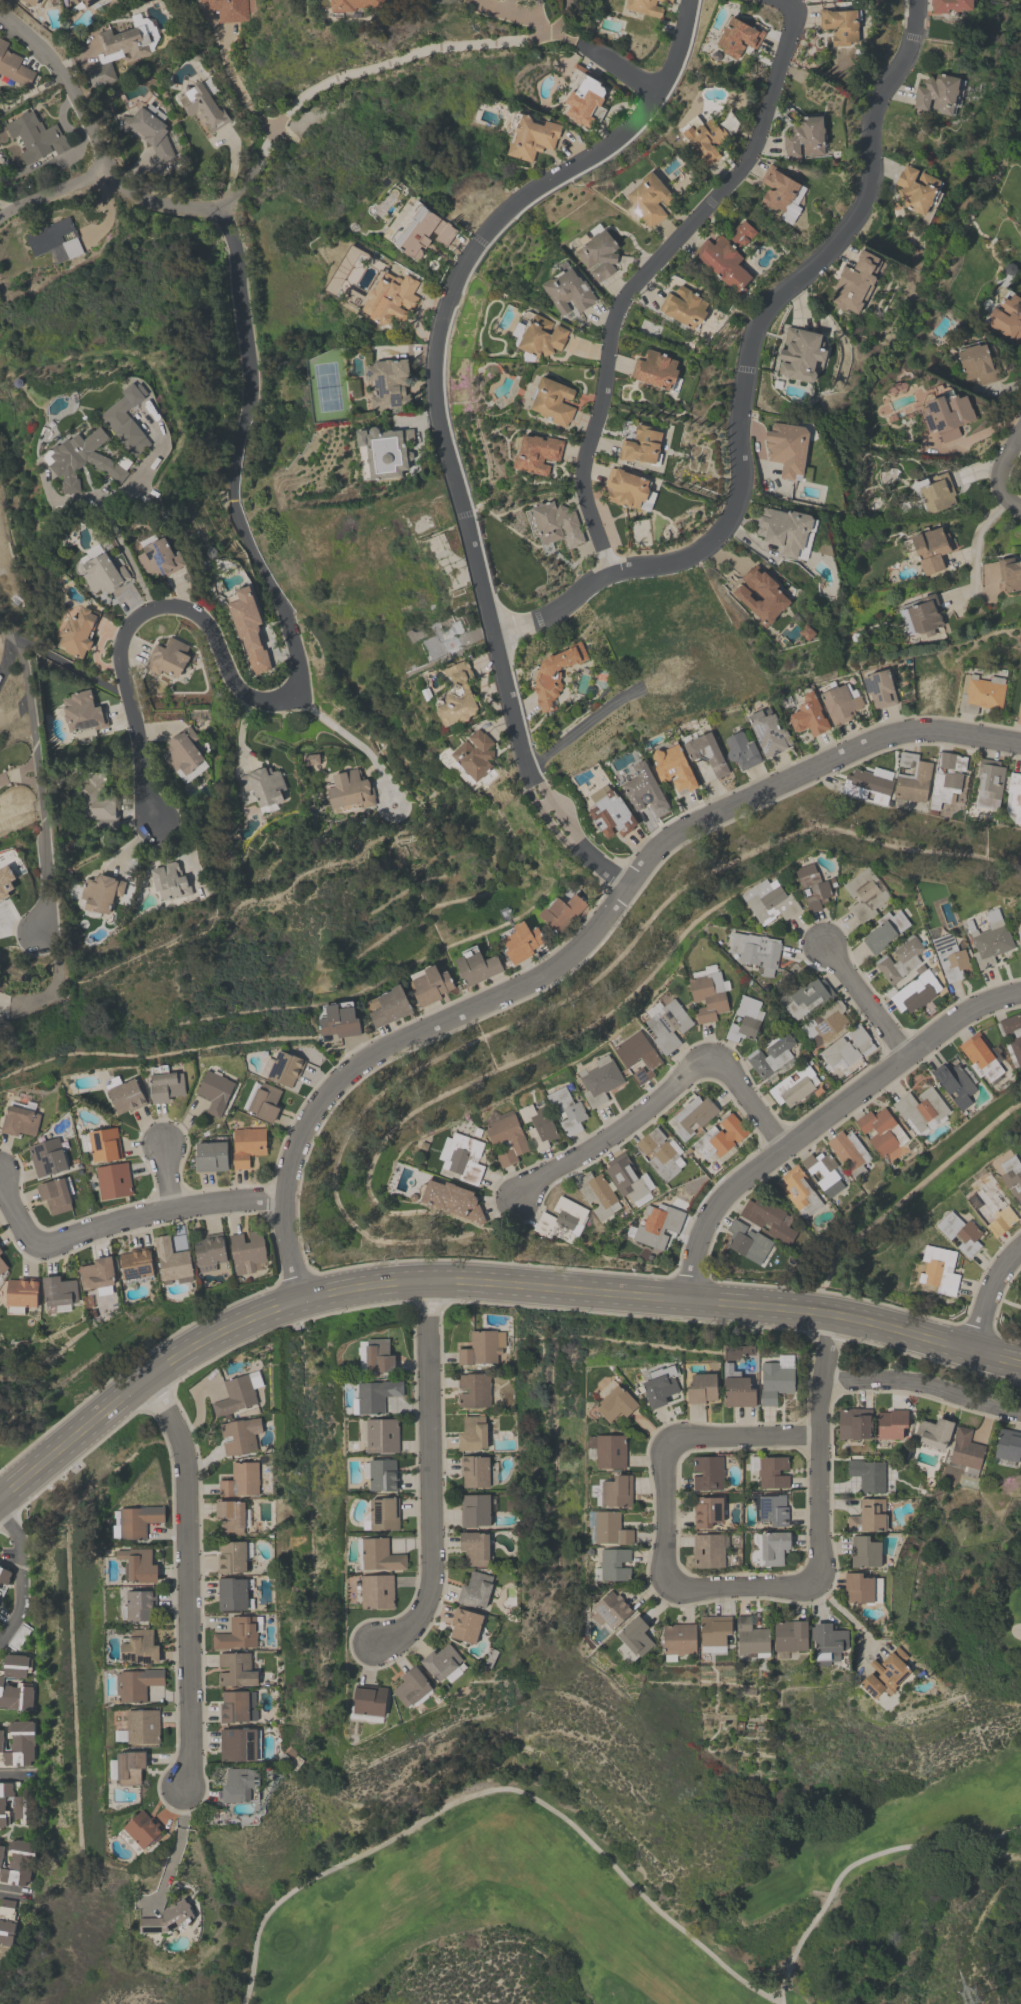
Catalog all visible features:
building: (29, 0)
building: (667, 1)
building: (30, 2)
building: (87, 2)
building: (359, 5)
building: (949, 5)
building: (643, 7)
building: (228, 9)
road: (509, 10)
building: (840, 24)
building: (738, 35)
building: (124, 41)
road: (677, 48)
road: (400, 57)
building: (13, 66)
road: (618, 67)
road: (65, 82)
road: (240, 87)
building: (938, 93)
building: (585, 96)
building: (203, 106)
building: (148, 129)
building: (707, 134)
building: (530, 135)
building: (34, 136)
building: (804, 136)
road: (252, 168)
building: (915, 188)
road: (51, 191)
building: (781, 192)
building: (647, 197)
road: (6, 204)
building: (420, 229)
building: (741, 232)
building: (54, 240)
building: (597, 253)
building: (723, 262)
road: (645, 270)
building: (855, 281)
building: (567, 291)
building: (390, 298)
building: (683, 306)
building: (1007, 317)
building: (540, 335)
building: (800, 353)
building: (977, 363)
building: (655, 370)
road: (746, 370)
building: (388, 383)
road: (1012, 383)
road: (248, 393)
building: (552, 400)
building: (947, 415)
building: (126, 418)
road: (980, 433)
building: (641, 446)
building: (786, 447)
building: (382, 452)
building: (536, 453)
building: (82, 459)
road: (450, 465)
road: (997, 467)
road: (135, 476)
building: (628, 489)
building: (936, 492)
building: (556, 523)
building: (786, 530)
building: (930, 548)
road: (975, 554)
building: (159, 558)
road: (130, 560)
building: (103, 573)
building: (1009, 573)
building: (760, 594)
road: (138, 612)
building: (921, 615)
building: (247, 627)
building: (77, 631)
building: (440, 639)
road: (5, 654)
building: (167, 657)
building: (554, 674)
building: (878, 688)
building: (982, 693)
building: (457, 695)
building: (838, 702)
building: (82, 711)
building: (808, 715)
road: (580, 727)
building: (768, 732)
road: (354, 746)
building: (741, 750)
building: (706, 752)
building: (183, 754)
building: (470, 759)
building: (673, 767)
road: (809, 769)
road: (18, 775)
building: (946, 777)
road: (38, 778)
building: (988, 783)
building: (866, 785)
building: (264, 786)
building: (644, 789)
building: (349, 791)
building: (1014, 795)
building: (98, 801)
building: (611, 814)
building: (169, 880)
building: (5, 881)
building: (812, 887)
building: (864, 893)
building: (98, 894)
building: (769, 901)
building: (561, 910)
building: (1020, 925)
building: (884, 930)
road: (18, 931)
building: (1018, 938)
building: (520, 940)
building: (988, 940)
building: (755, 950)
building: (1020, 955)
building: (950, 958)
building: (899, 959)
building: (475, 965)
road: (56, 975)
building: (429, 984)
building: (914, 993)
building: (707, 995)
building: (807, 996)
road: (868, 1002)
building: (388, 1006)
building: (337, 1019)
building: (744, 1020)
road: (962, 1020)
building: (825, 1022)
building: (667, 1025)
building: (1011, 1036)
road: (386, 1045)
building: (847, 1047)
building: (770, 1054)
building: (637, 1055)
building: (979, 1056)
building: (281, 1067)
building: (599, 1080)
building: (954, 1083)
building: (164, 1084)
building: (793, 1085)
building: (214, 1091)
building: (124, 1093)
road: (668, 1096)
building: (264, 1101)
building: (920, 1107)
building: (567, 1110)
building: (692, 1115)
building: (19, 1120)
building: (538, 1126)
building: (881, 1131)
building: (505, 1136)
building: (719, 1136)
building: (101, 1143)
building: (247, 1144)
building: (850, 1152)
building: (657, 1153)
building: (210, 1156)
building: (47, 1157)
building: (462, 1157)
road: (773, 1160)
building: (823, 1172)
road: (165, 1177)
building: (1011, 1177)
building: (625, 1178)
building: (112, 1180)
building: (798, 1190)
building: (597, 1194)
building: (54, 1195)
building: (451, 1200)
building: (989, 1208)
building: (767, 1219)
building: (561, 1220)
road: (121, 1221)
building: (656, 1224)
building: (959, 1232)
building: (748, 1242)
building: (0, 1250)
building: (208, 1251)
building: (246, 1251)
building: (171, 1261)
building: (136, 1264)
building: (2, 1266)
building: (938, 1269)
building: (97, 1275)
road: (480, 1282)
building: (57, 1291)
building: (20, 1293)
road: (989, 1297)
building: (481, 1347)
building: (378, 1355)
road: (821, 1374)
building: (774, 1381)
building: (660, 1384)
road: (922, 1387)
building: (701, 1388)
building: (473, 1390)
building: (738, 1391)
building: (375, 1394)
building: (234, 1395)
building: (614, 1401)
building: (854, 1422)
building: (890, 1423)
building: (933, 1432)
building: (472, 1433)
building: (240, 1434)
building: (381, 1435)
road: (667, 1437)
building: (1007, 1445)
building: (608, 1450)
building: (965, 1452)
building: (474, 1470)
building: (771, 1471)
building: (706, 1472)
road: (428, 1473)
building: (382, 1474)
building: (866, 1474)
building: (240, 1479)
building: (615, 1491)
building: (769, 1508)
building: (474, 1510)
building: (707, 1512)
building: (383, 1513)
building: (230, 1516)
building: (868, 1516)
building: (137, 1520)
building: (607, 1527)
building: (474, 1547)
building: (773, 1547)
building: (707, 1550)
building: (864, 1552)
building: (378, 1554)
building: (231, 1556)
building: (138, 1564)
building: (613, 1564)
building: (4, 1575)
road: (18, 1576)
road: (187, 1576)
building: (861, 1588)
building: (475, 1589)
building: (375, 1590)
building: (232, 1593)
park: (994, 1599)
building: (138, 1605)
building: (610, 1609)
road: (847, 1614)
building: (465, 1625)
building: (237, 1632)
building: (713, 1632)
building: (635, 1635)
building: (790, 1635)
building: (751, 1638)
building: (678, 1640)
building: (827, 1642)
building: (139, 1646)
building: (443, 1664)
building: (236, 1669)
building: (886, 1673)
building: (1, 1680)
building: (136, 1683)
building: (414, 1689)
building: (368, 1703)
building: (236, 1706)
building: (142, 1726)
building: (17, 1743)
building: (237, 1744)
building: (129, 1767)
road: (15, 1774)
building: (239, 1784)
building: (16, 1803)
building: (142, 1828)
building: (1, 1851)
building: (18, 1862)
road: (627, 1880)
road: (14, 1893)
park: (669, 1906)
building: (167, 1918)
building: (7, 1921)
power tower: (966, 1982)

